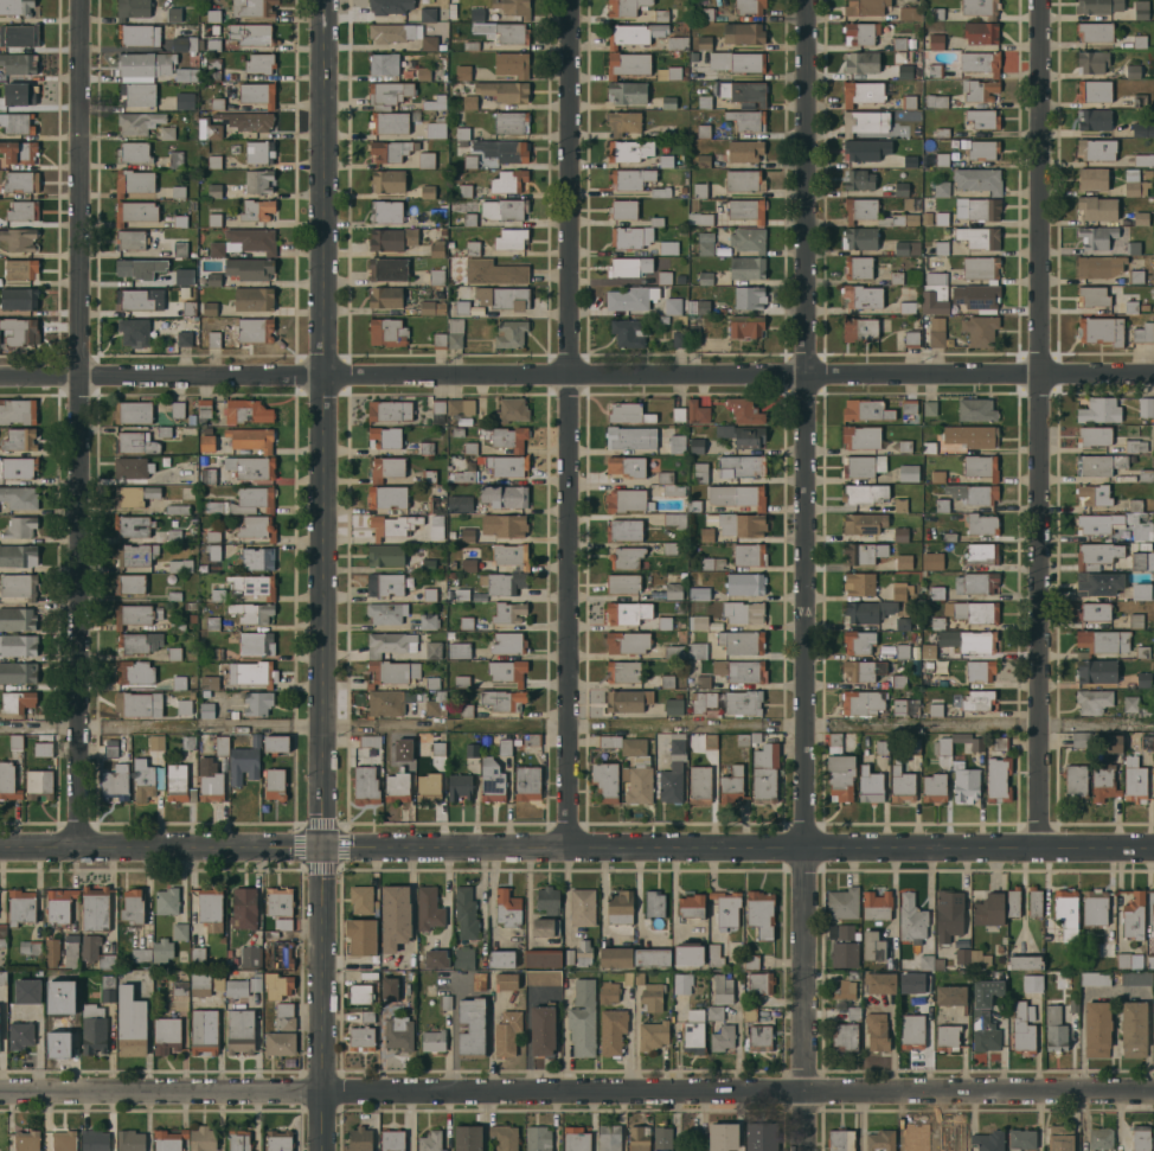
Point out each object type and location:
building: (390, 6)
building: (749, 6)
building: (865, 6)
building: (1098, 6)
building: (15, 7)
building: (251, 7)
building: (513, 7)
building: (626, 7)
building: (980, 7)
building: (132, 8)
building: (1141, 8)
building: (451, 9)
building: (212, 12)
building: (936, 12)
building: (427, 13)
building: (705, 13)
building: (910, 13)
building: (173, 14)
building: (476, 14)
building: (660, 15)
building: (502, 31)
building: (390, 32)
building: (859, 32)
building: (981, 32)
building: (1095, 32)
building: (250, 33)
building: (743, 33)
building: (137, 34)
building: (635, 34)
building: (19, 36)
building: (428, 41)
building: (936, 41)
building: (1139, 41)
building: (677, 43)
building: (704, 43)
building: (899, 43)
building: (184, 44)
building: (470, 44)
building: (200, 45)
building: (212, 45)
building: (693, 56)
building: (737, 62)
building: (861, 62)
building: (981, 62)
building: (1092, 62)
building: (18, 63)
building: (259, 63)
building: (383, 63)
building: (511, 63)
building: (143, 64)
building: (627, 64)
building: (212, 69)
building: (937, 70)
building: (462, 71)
building: (905, 71)
building: (1133, 71)
building: (423, 72)
building: (668, 72)
building: (186, 75)
building: (232, 76)
building: (500, 90)
building: (980, 90)
building: (628, 91)
building: (749, 91)
building: (1094, 91)
building: (256, 92)
building: (389, 92)
building: (861, 92)
building: (20, 94)
building: (136, 94)
building: (1139, 100)
building: (184, 101)
building: (469, 101)
building: (704, 101)
building: (910, 101)
building: (936, 101)
building: (434, 102)
building: (217, 103)
building: (668, 103)
building: (415, 115)
building: (982, 117)
building: (746, 119)
building: (1094, 119)
building: (248, 120)
building: (511, 121)
building: (864, 121)
building: (137, 122)
building: (387, 122)
building: (623, 122)
building: (15, 123)
building: (207, 129)
building: (435, 129)
building: (1143, 129)
building: (667, 130)
building: (703, 130)
building: (943, 132)
building: (167, 133)
building: (462, 133)
building: (865, 148)
building: (955, 148)
building: (389, 149)
building: (504, 149)
building: (983, 149)
building: (1096, 149)
building: (623, 151)
building: (744, 151)
building: (19, 152)
building: (133, 152)
building: (258, 152)
building: (175, 159)
building: (425, 159)
building: (942, 159)
building: (469, 160)
building: (703, 160)
building: (1143, 160)
building: (213, 161)
building: (666, 161)
building: (909, 161)
building: (632, 178)
building: (1092, 178)
building: (387, 179)
building: (858, 179)
building: (977, 179)
building: (257, 180)
building: (507, 180)
building: (744, 180)
building: (20, 181)
building: (132, 181)
building: (941, 187)
building: (1139, 187)
building: (900, 188)
building: (463, 190)
building: (699, 190)
building: (213, 191)
building: (427, 191)
building: (660, 191)
building: (177, 192)
building: (910, 203)
building: (192, 204)
building: (961, 207)
building: (1097, 207)
building: (502, 209)
building: (623, 209)
building: (983, 209)
building: (255, 210)
building: (746, 210)
building: (23, 211)
building: (385, 211)
building: (134, 212)
building: (436, 212)
building: (876, 212)
building: (927, 217)
building: (700, 218)
building: (941, 218)
building: (1141, 218)
building: (213, 219)
building: (468, 219)
building: (179, 220)
building: (655, 220)
building: (441, 231)
building: (630, 236)
building: (859, 237)
building: (979, 237)
building: (1096, 237)
building: (136, 238)
building: (391, 238)
building: (511, 238)
building: (20, 239)
building: (252, 239)
building: (748, 239)
building: (705, 243)
building: (449, 244)
building: (941, 247)
building: (1133, 247)
building: (436, 248)
building: (472, 248)
building: (667, 248)
building: (908, 248)
building: (178, 249)
building: (216, 249)
building: (203, 251)
building: (1099, 266)
building: (628, 267)
building: (858, 267)
building: (139, 268)
building: (249, 268)
building: (387, 268)
building: (746, 268)
building: (981, 268)
building: (21, 269)
building: (493, 271)
building: (182, 276)
building: (436, 276)
building: (1135, 276)
building: (663, 277)
building: (705, 277)
building: (896, 277)
building: (212, 279)
building: (935, 279)
building: (197, 289)
building: (182, 292)
building: (438, 292)
building: (1092, 295)
building: (384, 296)
building: (502, 296)
building: (749, 296)
building: (861, 296)
building: (977, 296)
building: (19, 298)
building: (140, 299)
building: (252, 299)
building: (628, 299)
building: (934, 299)
building: (1130, 302)
building: (427, 306)
building: (461, 306)
building: (672, 306)
building: (906, 306)
building: (187, 307)
building: (206, 307)
building: (440, 307)
building: (701, 307)
building: (745, 326)
building: (859, 328)
building: (254, 330)
building: (980, 330)
building: (1102, 330)
building: (19, 331)
building: (133, 331)
building: (387, 331)
building: (454, 332)
building: (936, 332)
building: (509, 333)
building: (627, 333)
building: (1143, 333)
building: (693, 334)
building: (182, 338)
building: (911, 338)
building: (213, 339)
building: (679, 339)
building: (438, 340)
road: (576, 372)
building: (460, 407)
building: (1146, 407)
building: (930, 408)
building: (177, 409)
building: (909, 409)
building: (976, 409)
building: (204, 410)
building: (511, 410)
building: (744, 410)
building: (865, 410)
building: (1099, 410)
building: (18, 411)
building: (246, 411)
building: (389, 411)
building: (437, 411)
building: (697, 411)
building: (133, 413)
building: (628, 413)
building: (678, 414)
road: (81, 422)
road: (570, 422)
road: (1038, 424)
building: (207, 429)
building: (164, 431)
building: (457, 431)
building: (742, 435)
building: (972, 435)
building: (1094, 435)
building: (861, 436)
building: (384, 437)
building: (505, 437)
building: (630, 437)
building: (19, 439)
building: (251, 439)
building: (134, 442)
building: (929, 442)
building: (206, 443)
building: (677, 443)
building: (695, 446)
building: (905, 446)
building: (1135, 446)
building: (425, 448)
building: (469, 448)
building: (1099, 463)
building: (505, 465)
building: (743, 465)
building: (626, 466)
building: (863, 466)
building: (980, 466)
building: (19, 467)
building: (129, 467)
building: (250, 467)
building: (387, 467)
building: (699, 473)
building: (909, 473)
building: (207, 475)
building: (937, 475)
building: (1146, 475)
building: (428, 477)
building: (461, 477)
building: (665, 478)
building: (673, 490)
building: (864, 493)
building: (974, 493)
building: (1095, 494)
building: (134, 495)
building: (504, 495)
building: (737, 495)
building: (386, 497)
building: (19, 498)
building: (624, 500)
building: (242, 501)
building: (460, 503)
building: (1153, 504)
building: (900, 505)
building: (942, 505)
building: (1135, 505)
building: (694, 506)
building: (177, 510)
building: (1128, 517)
building: (675, 519)
building: (864, 523)
building: (1098, 523)
building: (738, 524)
building: (982, 524)
building: (133, 525)
building: (391, 525)
building: (504, 525)
building: (436, 526)
building: (20, 527)
building: (257, 527)
building: (623, 530)
building: (1142, 531)
building: (450, 535)
building: (467, 535)
building: (706, 535)
building: (900, 535)
building: (947, 536)
building: (212, 537)
building: (669, 548)
building: (213, 552)
building: (859, 554)
building: (981, 554)
building: (17, 555)
building: (134, 555)
building: (385, 555)
building: (749, 555)
building: (1096, 555)
building: (511, 556)
building: (626, 557)
building: (257, 558)
building: (932, 561)
building: (1142, 561)
building: (711, 563)
building: (468, 564)
building: (900, 564)
building: (180, 565)
building: (427, 565)
building: (451, 565)
building: (438, 568)
road: (321, 575)
road: (807, 575)
building: (428, 580)
building: (502, 582)
building: (622, 583)
building: (745, 583)
building: (859, 583)
building: (976, 583)
building: (1099, 583)
building: (129, 584)
building: (384, 584)
building: (19, 586)
building: (252, 586)
building: (900, 589)
building: (673, 590)
building: (937, 593)
building: (1143, 593)
building: (430, 594)
building: (457, 594)
building: (698, 594)
building: (217, 595)
building: (174, 596)
building: (190, 605)
building: (1094, 610)
building: (627, 612)
building: (867, 612)
building: (976, 612)
building: (251, 613)
building: (384, 613)
building: (507, 613)
building: (743, 613)
building: (135, 614)
building: (192, 618)
building: (17, 619)
building: (428, 621)
building: (1136, 621)
building: (663, 622)
building: (698, 622)
building: (937, 622)
building: (212, 624)
building: (466, 624)
building: (903, 624)
building: (175, 625)
building: (450, 635)
building: (968, 640)
building: (1103, 640)
building: (741, 641)
building: (859, 641)
building: (137, 642)
building: (390, 642)
building: (627, 642)
building: (256, 644)
building: (507, 644)
building: (18, 645)
building: (1153, 648)
building: (432, 650)
building: (457, 650)
building: (695, 651)
building: (902, 651)
building: (928, 651)
building: (674, 652)
building: (1142, 652)
building: (174, 653)
building: (213, 653)
building: (191, 654)
building: (719, 667)
building: (863, 670)
building: (980, 670)
building: (391, 671)
building: (506, 671)
building: (623, 671)
building: (1096, 671)
building: (18, 672)
building: (134, 672)
building: (745, 672)
building: (254, 673)
building: (1143, 679)
building: (898, 680)
building: (207, 682)
building: (461, 682)
building: (667, 682)
building: (698, 682)
building: (179, 683)
building: (431, 683)
building: (502, 699)
building: (627, 699)
building: (1092, 699)
building: (976, 701)
building: (17, 702)
building: (700, 702)
building: (743, 702)
building: (256, 703)
building: (384, 703)
building: (863, 703)
building: (137, 704)
building: (673, 705)
building: (184, 706)
building: (435, 706)
building: (899, 706)
building: (936, 706)
building: (1136, 706)
building: (206, 710)
building: (466, 710)
building: (233, 715)
road: (576, 722)
building: (756, 737)
building: (1081, 738)
building: (255, 740)
building: (531, 740)
building: (742, 740)
building: (15, 741)
building: (370, 741)
building: (610, 741)
building: (710, 741)
building: (1147, 741)
building: (155, 742)
building: (187, 742)
building: (834, 742)
building: (969, 742)
building: (275, 743)
building: (1000, 743)
building: (1115, 743)
building: (220, 746)
building: (912, 746)
building: (942, 746)
building: (504, 747)
building: (634, 747)
building: (881, 747)
building: (408, 748)
building: (437, 748)
building: (44, 749)
building: (109, 750)
building: (472, 750)
building: (389, 763)
building: (243, 765)
building: (672, 772)
building: (764, 773)
building: (840, 776)
building: (998, 779)
building: (492, 780)
building: (1076, 780)
building: (1135, 780)
building: (7, 781)
building: (605, 781)
building: (639, 781)
building: (115, 782)
building: (147, 782)
building: (526, 782)
building: (902, 782)
building: (1103, 782)
building: (39, 784)
building: (275, 784)
building: (731, 784)
building: (178, 785)
building: (365, 785)
building: (699, 785)
building: (870, 785)
building: (966, 785)
building: (397, 786)
building: (459, 786)
building: (211, 787)
building: (428, 787)
building: (934, 787)
building: (1153, 793)
traffic signals: (320, 846)
road: (577, 846)
building: (360, 899)
building: (549, 900)
road: (637, 900)
building: (167, 901)
building: (280, 902)
building: (1013, 902)
building: (1034, 902)
building: (654, 903)
building: (844, 903)
building: (23, 906)
building: (59, 906)
building: (691, 906)
building: (877, 906)
building: (133, 907)
building: (582, 907)
building: (620, 907)
building: (1095, 907)
building: (244, 908)
building: (429, 908)
building: (508, 908)
building: (95, 909)
building: (211, 909)
building: (726, 909)
building: (989, 910)
building: (466, 913)
building: (1068, 913)
building: (761, 914)
building: (949, 915)
building: (1134, 915)
building: (395, 916)
building: (911, 920)
building: (1153, 921)
building: (283, 925)
building: (546, 928)
building: (180, 932)
building: (847, 932)
building: (270, 934)
building: (2, 935)
building: (361, 936)
building: (873, 946)
building: (31, 947)
building: (1109, 949)
building: (162, 951)
building: (51, 952)
building: (70, 952)
building: (96, 952)
building: (583, 953)
building: (283, 954)
building: (845, 954)
building: (141, 955)
building: (688, 955)
building: (714, 955)
building: (962, 955)
building: (198, 957)
building: (250, 957)
building: (569, 957)
building: (615, 957)
building: (436, 958)
building: (464, 958)
building: (543, 958)
building: (653, 958)
building: (501, 959)
building: (979, 959)
building: (1129, 960)
building: (1150, 961)
building: (751, 963)
building: (927, 963)
building: (1025, 963)
building: (909, 964)
building: (938, 964)
building: (368, 976)
building: (4, 977)
building: (543, 977)
building: (628, 978)
building: (639, 978)
building: (1096, 978)
building: (1135, 978)
building: (479, 980)
building: (506, 981)
building: (256, 983)
building: (759, 983)
building: (880, 983)
building: (200, 984)
building: (218, 984)
building: (682, 984)
building: (1032, 984)
building: (277, 985)
building: (846, 985)
building: (389, 987)
building: (108, 989)
building: (180, 989)
building: (236, 989)
building: (925, 989)
building: (723, 990)
building: (28, 991)
building: (72, 991)
building: (986, 991)
building: (608, 992)
building: (360, 995)
building: (950, 996)
building: (653, 997)
building: (1075, 1002)
building: (447, 1003)
building: (754, 1004)
building: (714, 1012)
building: (853, 1012)
building: (750, 1013)
building: (286, 1016)
building: (367, 1016)
building: (583, 1018)
building: (132, 1023)
building: (470, 1027)
building: (1022, 1027)
building: (1134, 1028)
building: (57, 1029)
building: (94, 1029)
building: (541, 1029)
building: (1056, 1029)
building: (1098, 1029)
building: (611, 1030)
building: (693, 1030)
building: (204, 1031)
building: (241, 1031)
building: (877, 1031)
building: (912, 1031)
building: (983, 1031)
building: (399, 1032)
building: (20, 1035)
building: (167, 1035)
building: (653, 1035)
building: (505, 1037)
building: (722, 1037)
building: (845, 1037)
building: (947, 1037)
building: (361, 1038)
building: (759, 1038)
building: (434, 1041)
building: (280, 1043)
building: (1153, 1044)
road: (577, 1094)
building: (504, 1137)
building: (722, 1137)
building: (467, 1138)
building: (538, 1138)
building: (575, 1138)
building: (609, 1138)
building: (639, 1138)
building: (1062, 1138)
building: (1102, 1138)
building: (1141, 1138)
building: (201, 1139)
building: (359, 1139)
building: (661, 1139)
building: (955, 1139)
building: (1021, 1139)
building: (27, 1140)
building: (63, 1140)
building: (95, 1140)
building: (130, 1140)
building: (168, 1140)
building: (238, 1140)
building: (277, 1140)
building: (392, 1140)
building: (758, 1140)
building: (841, 1140)
building: (880, 1140)
building: (430, 1142)
building: (913, 1142)
building: (988, 1142)
building: (1153, 1146)

